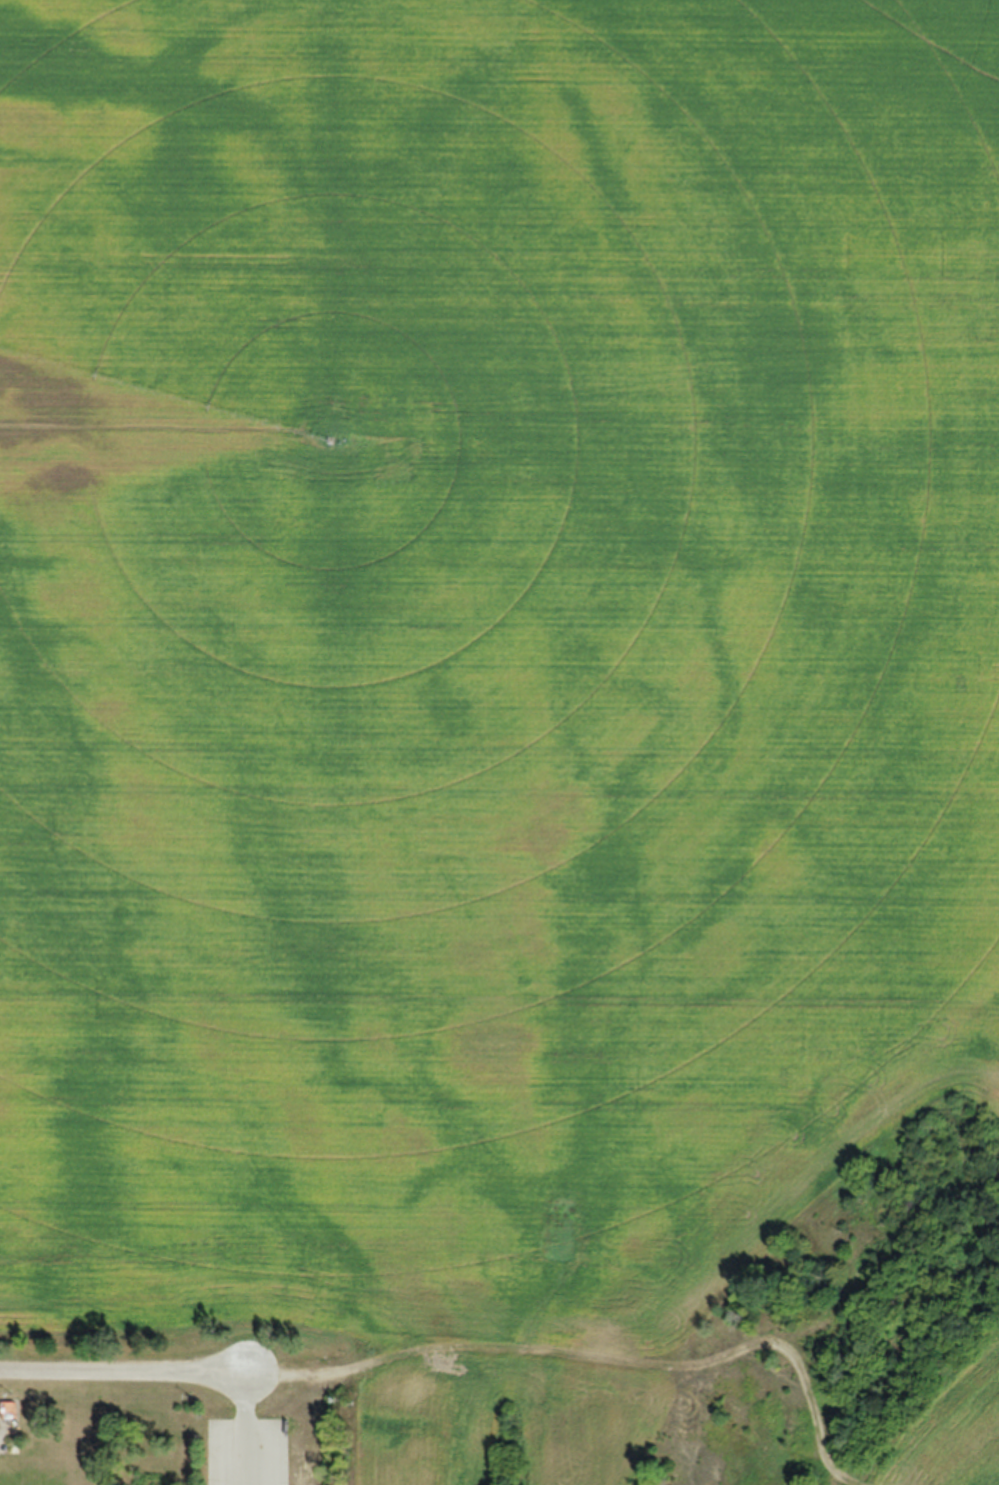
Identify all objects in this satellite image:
crop: (485, 677)
road: (599, 1361)
road: (125, 1376)
crop: (950, 1430)
road: (250, 1432)

